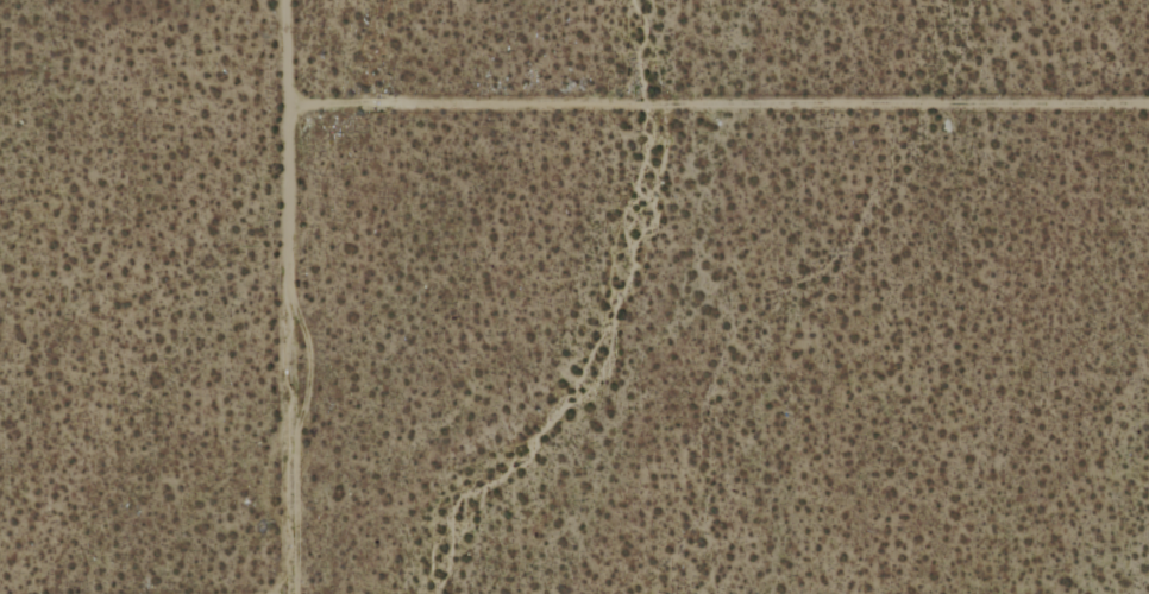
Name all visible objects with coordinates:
road: (296, 296)

